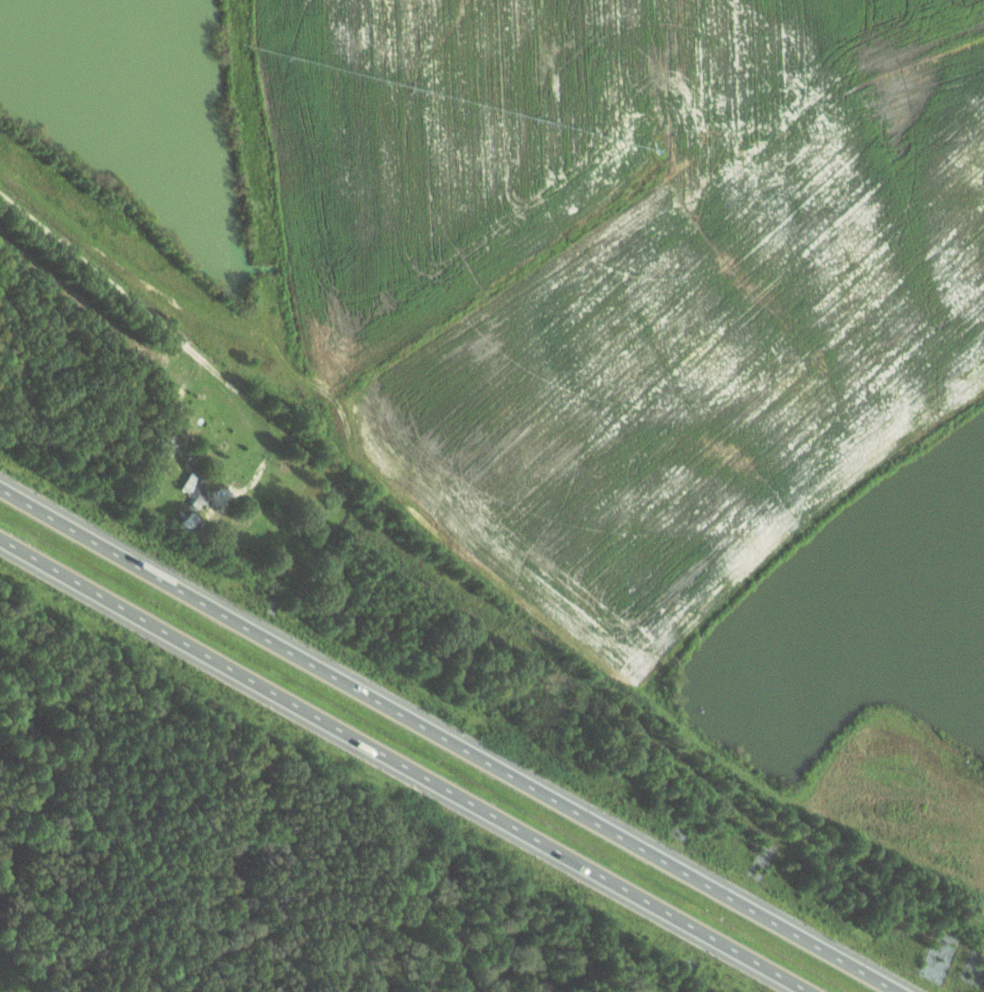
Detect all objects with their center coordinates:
road: (126, 297)
road: (445, 740)
road: (401, 765)

